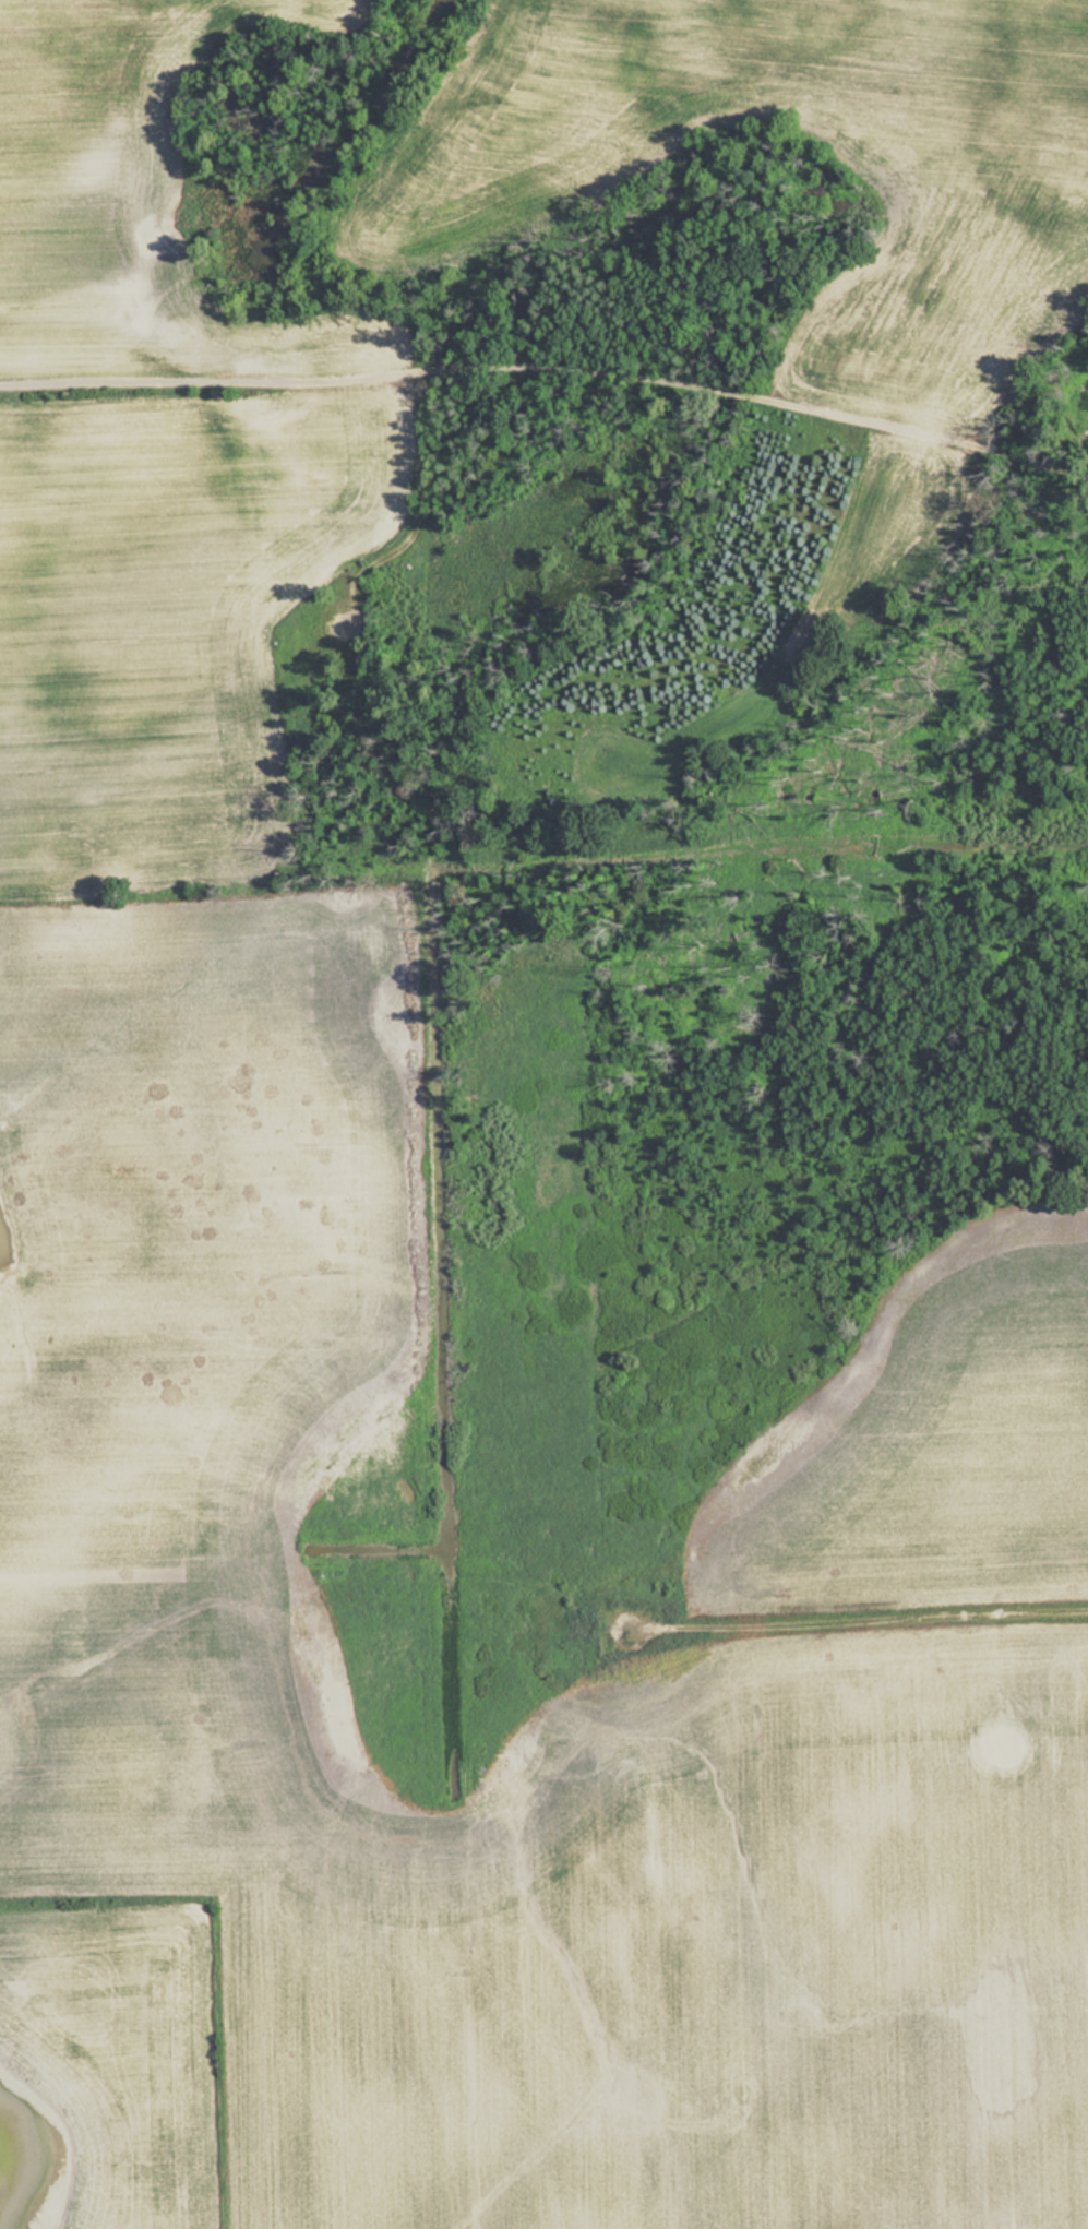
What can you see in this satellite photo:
road: (550, 360)
road: (866, 1621)

